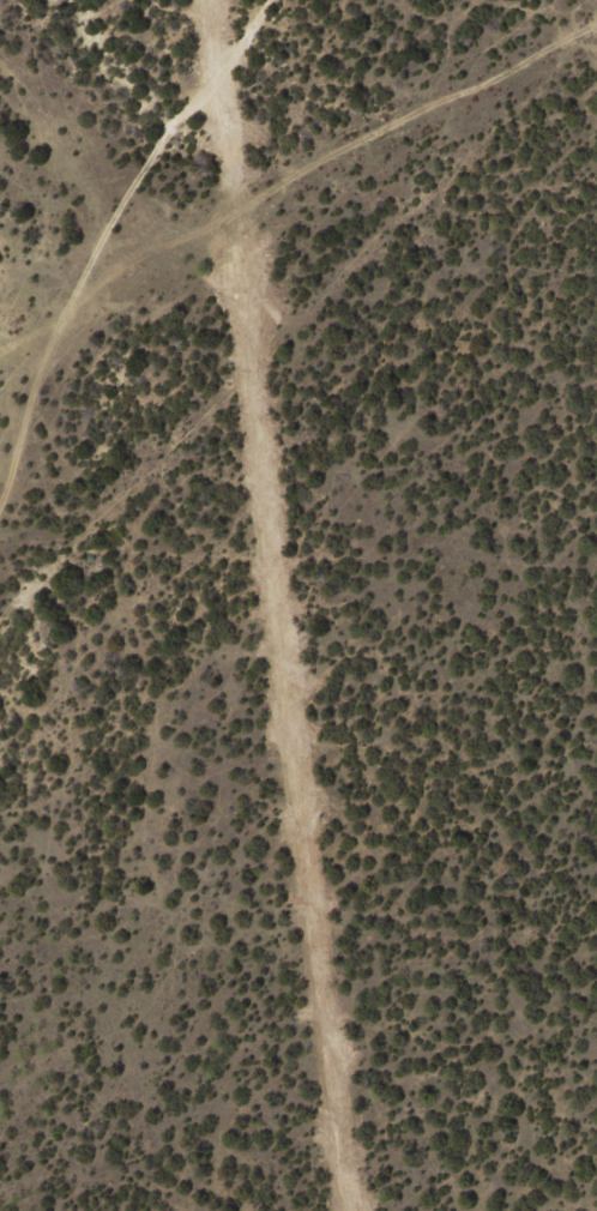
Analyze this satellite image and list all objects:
road: (125, 264)

